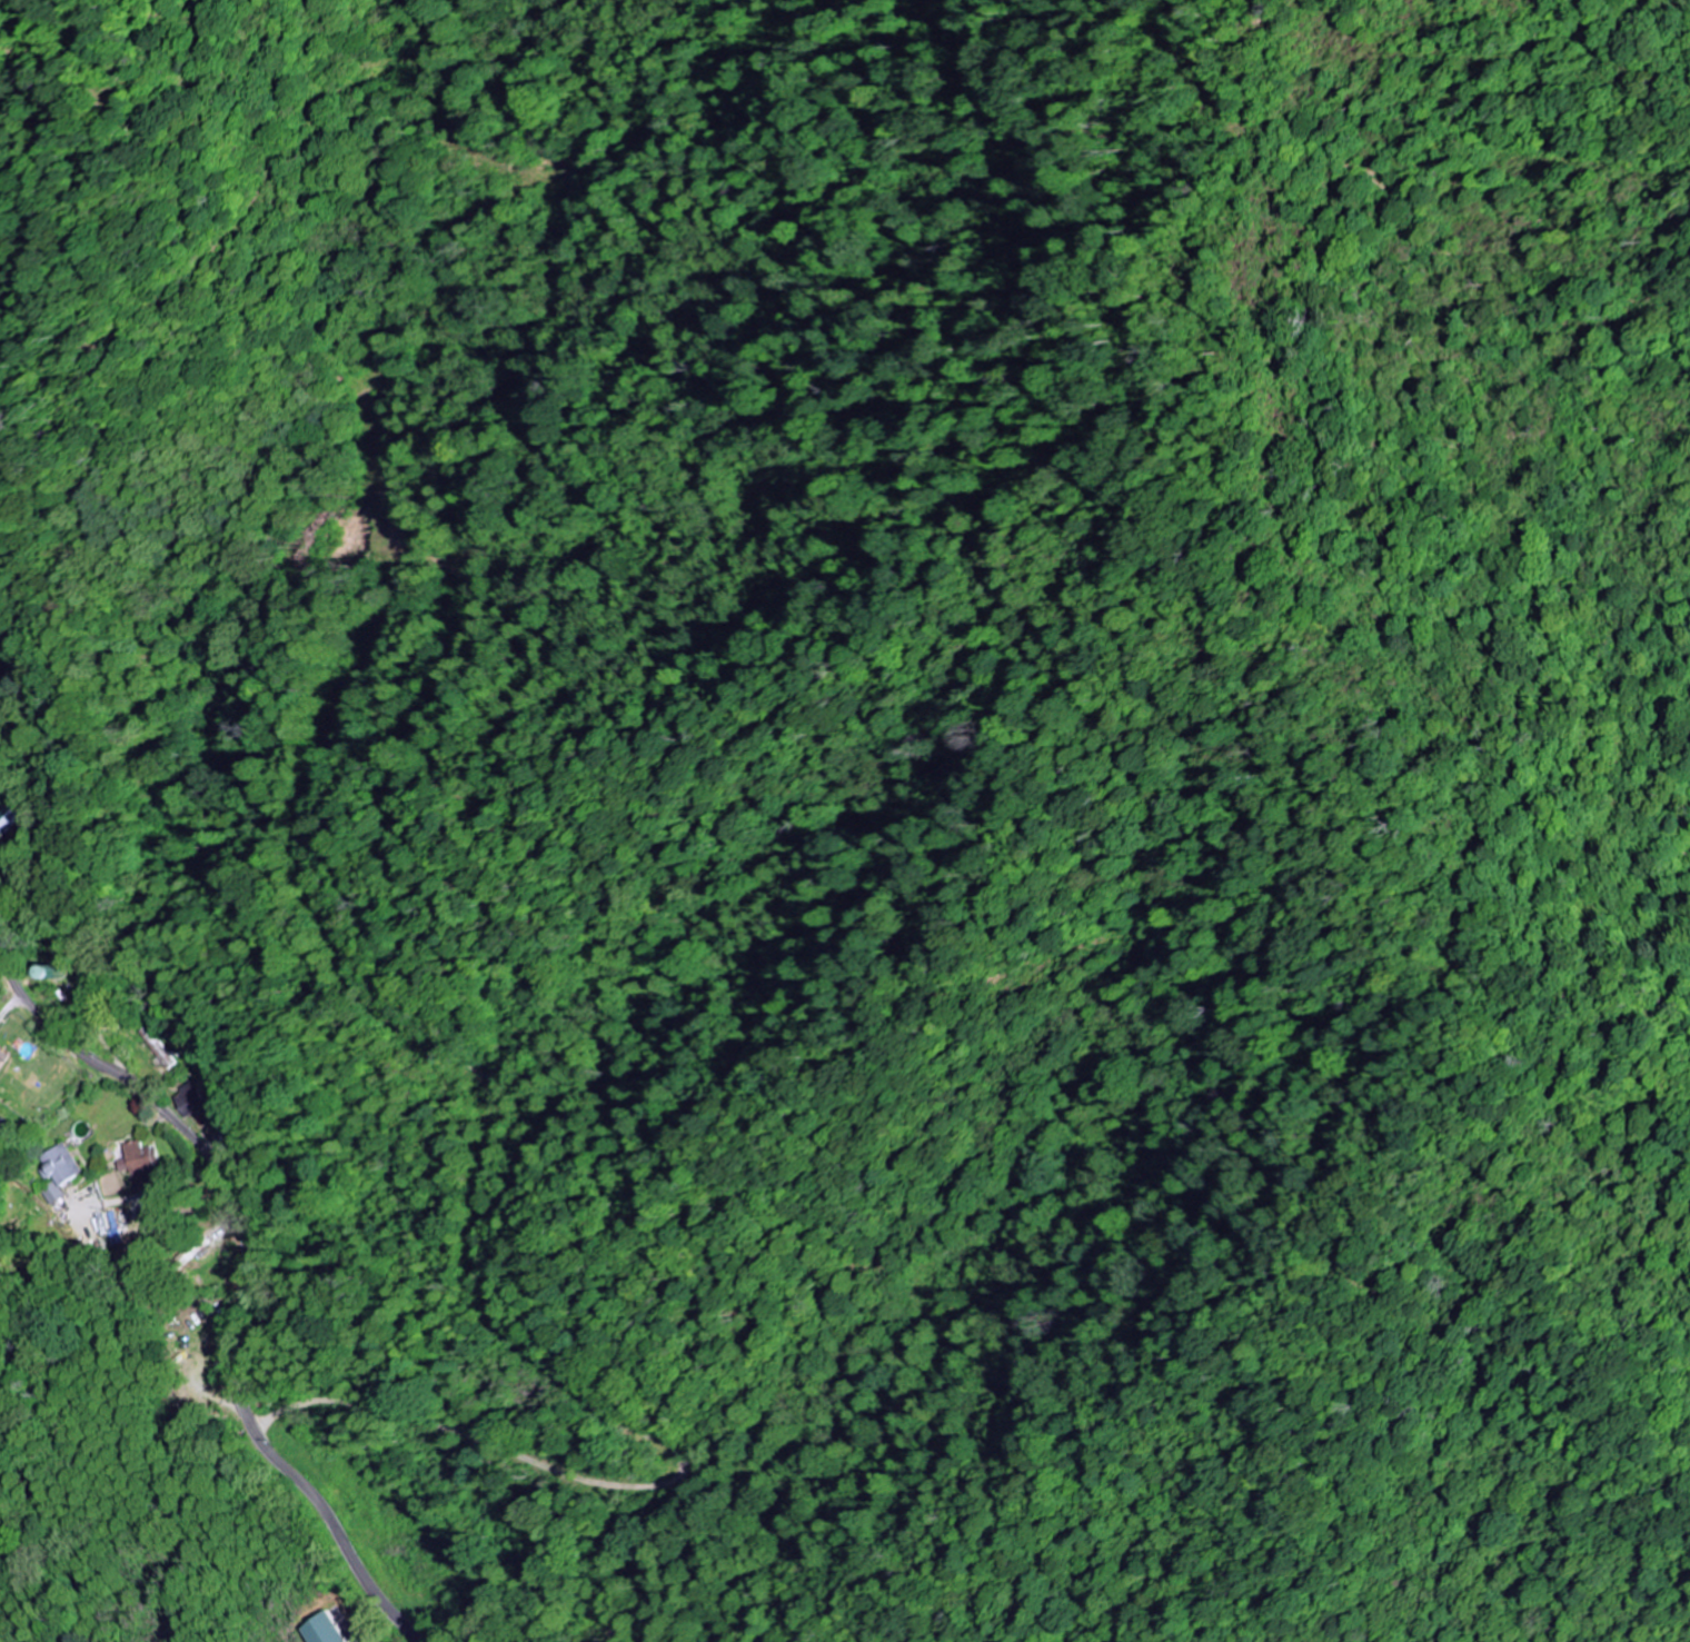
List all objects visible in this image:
building: (11, 817)
road: (69, 1041)
building: (6, 1062)
building: (198, 1098)
road: (218, 1105)
building: (4, 1137)
building: (142, 1158)
building: (58, 1172)
road: (152, 1194)
road: (242, 1394)
building: (319, 1629)

